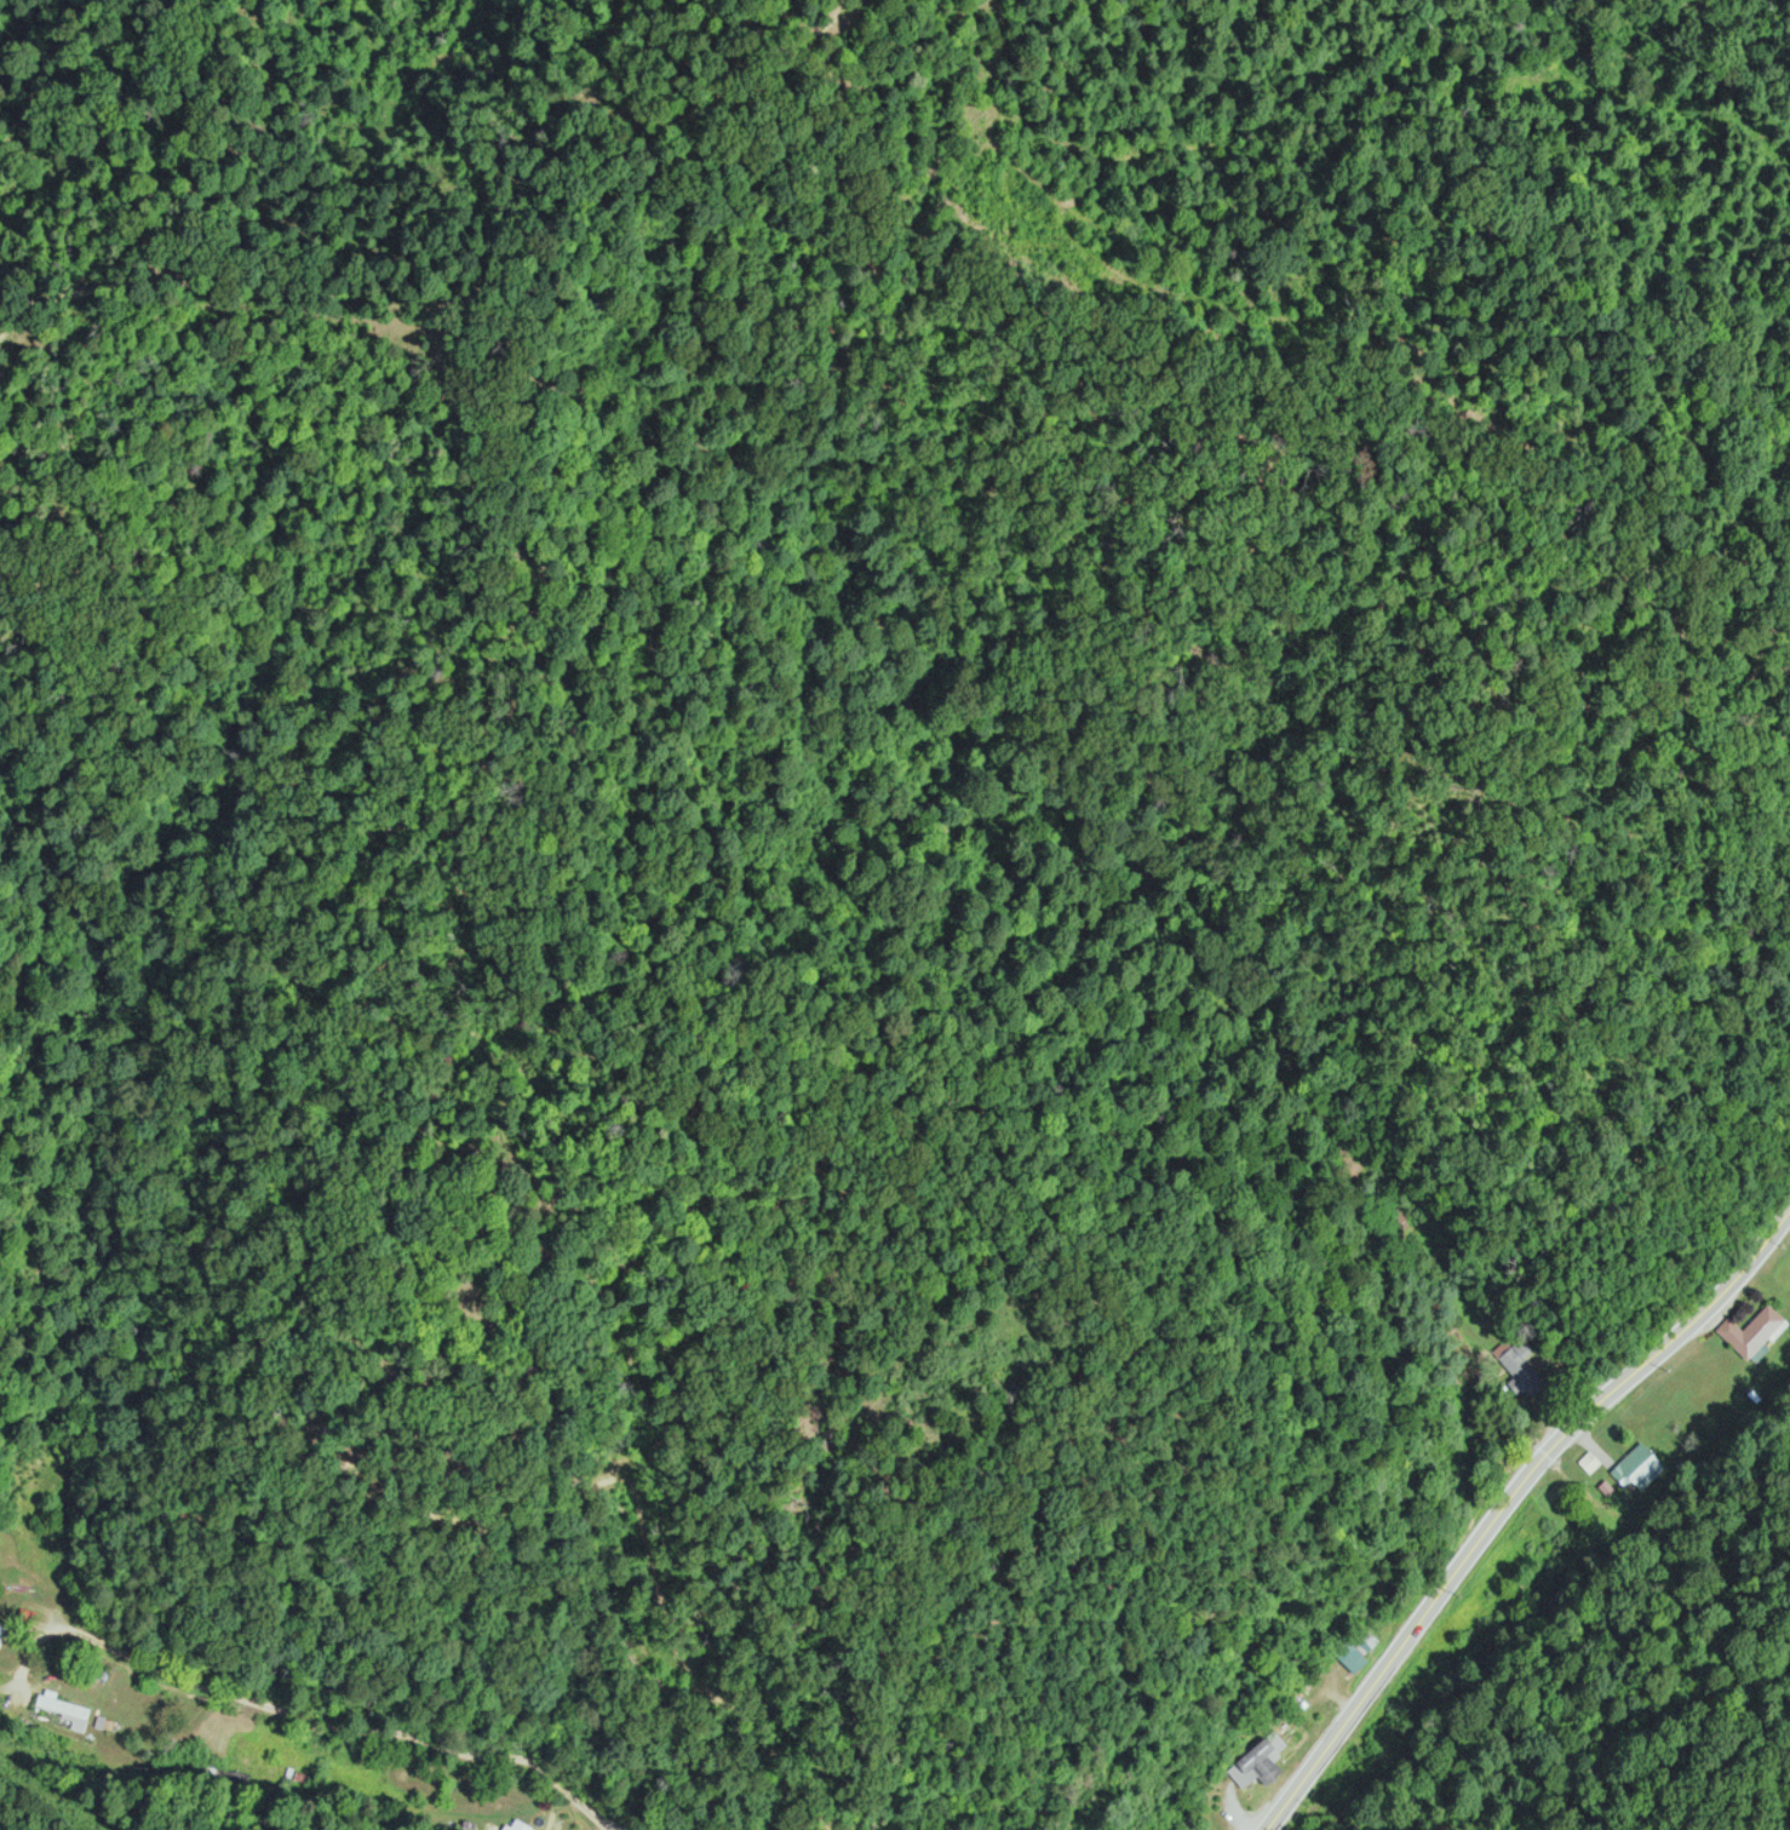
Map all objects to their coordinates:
building: (1530, 1383)
road: (1510, 1505)
road: (323, 1708)
building: (1256, 1766)

